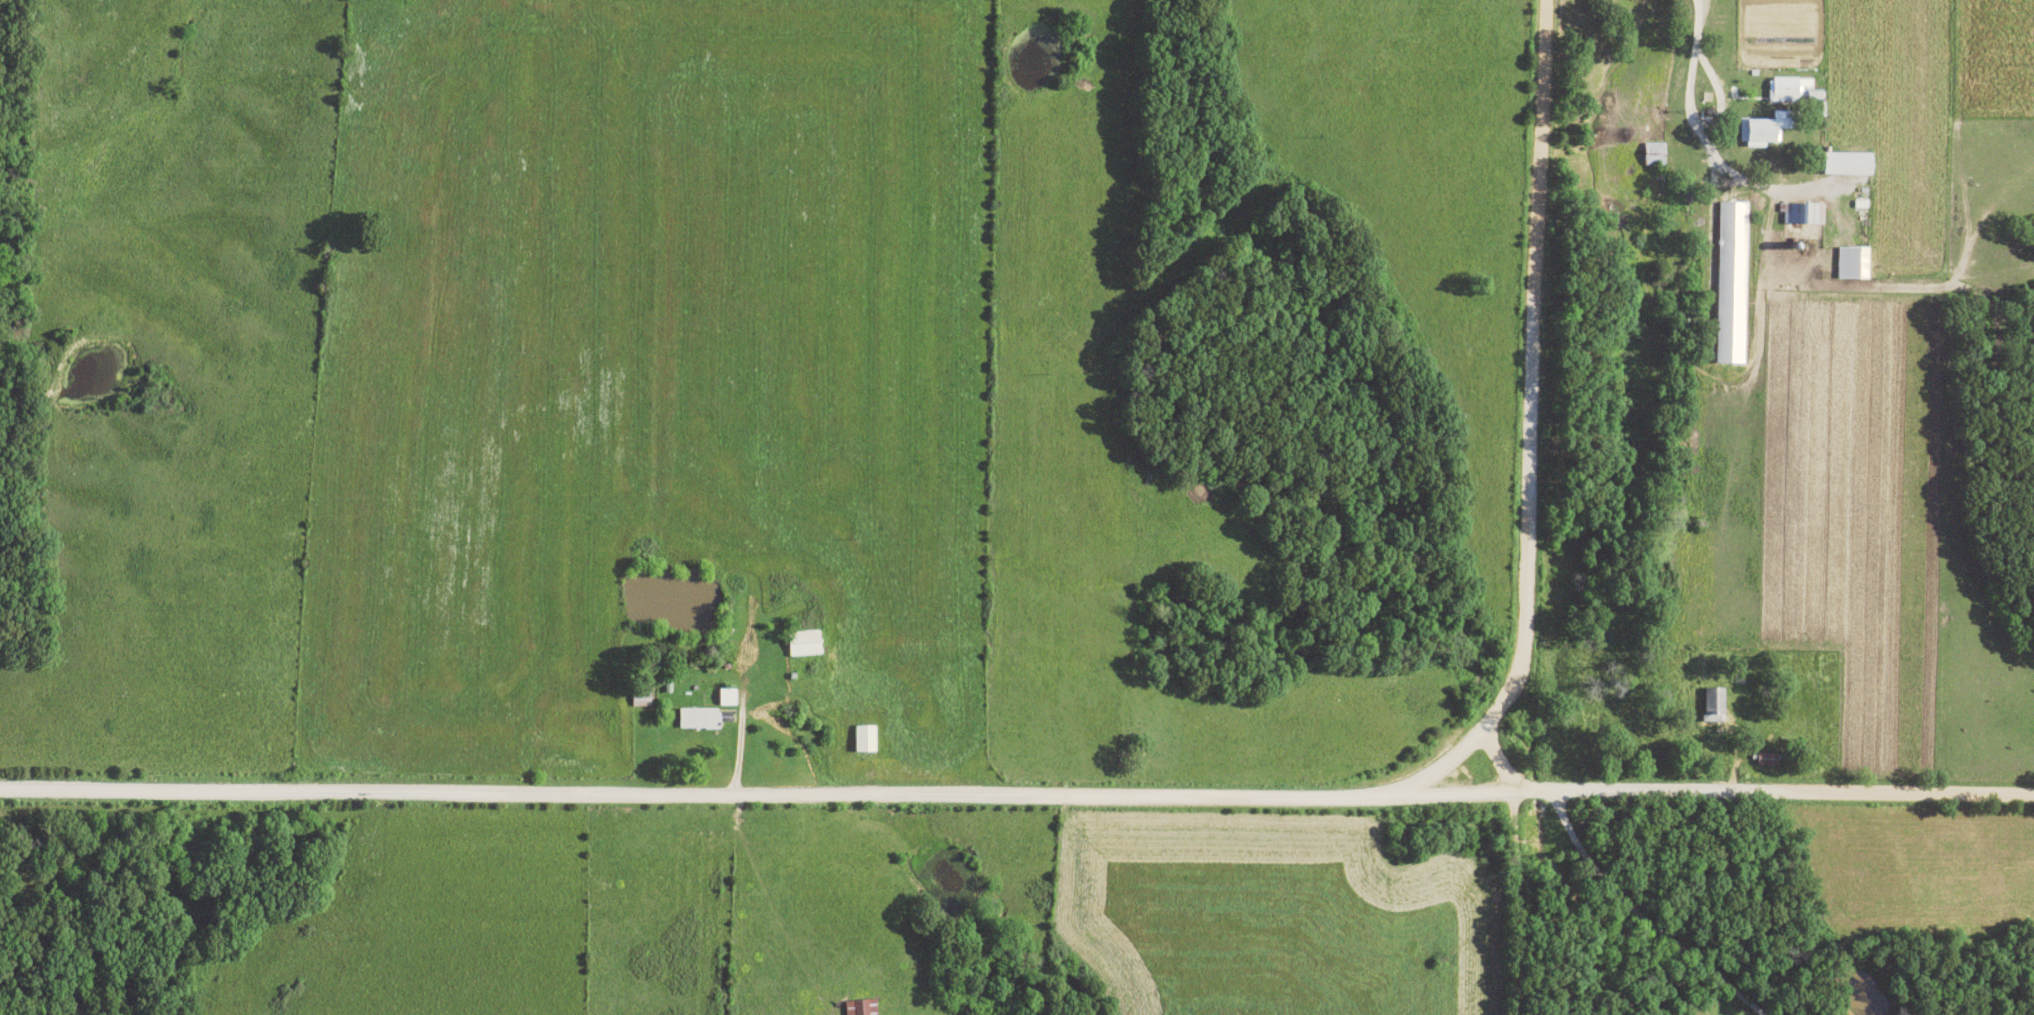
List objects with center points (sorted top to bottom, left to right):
road: (1713, 91)
building: (1793, 91)
building: (1764, 131)
road: (1703, 141)
building: (1655, 156)
building: (1848, 163)
building: (1853, 263)
building: (1732, 282)
road: (1527, 372)
building: (803, 643)
building: (726, 697)
building: (641, 699)
building: (1714, 703)
road: (735, 716)
building: (698, 719)
road: (1491, 761)
road: (1434, 766)
road: (1771, 792)
road: (755, 795)
road: (1508, 902)
road: (1634, 914)
building: (861, 1007)

